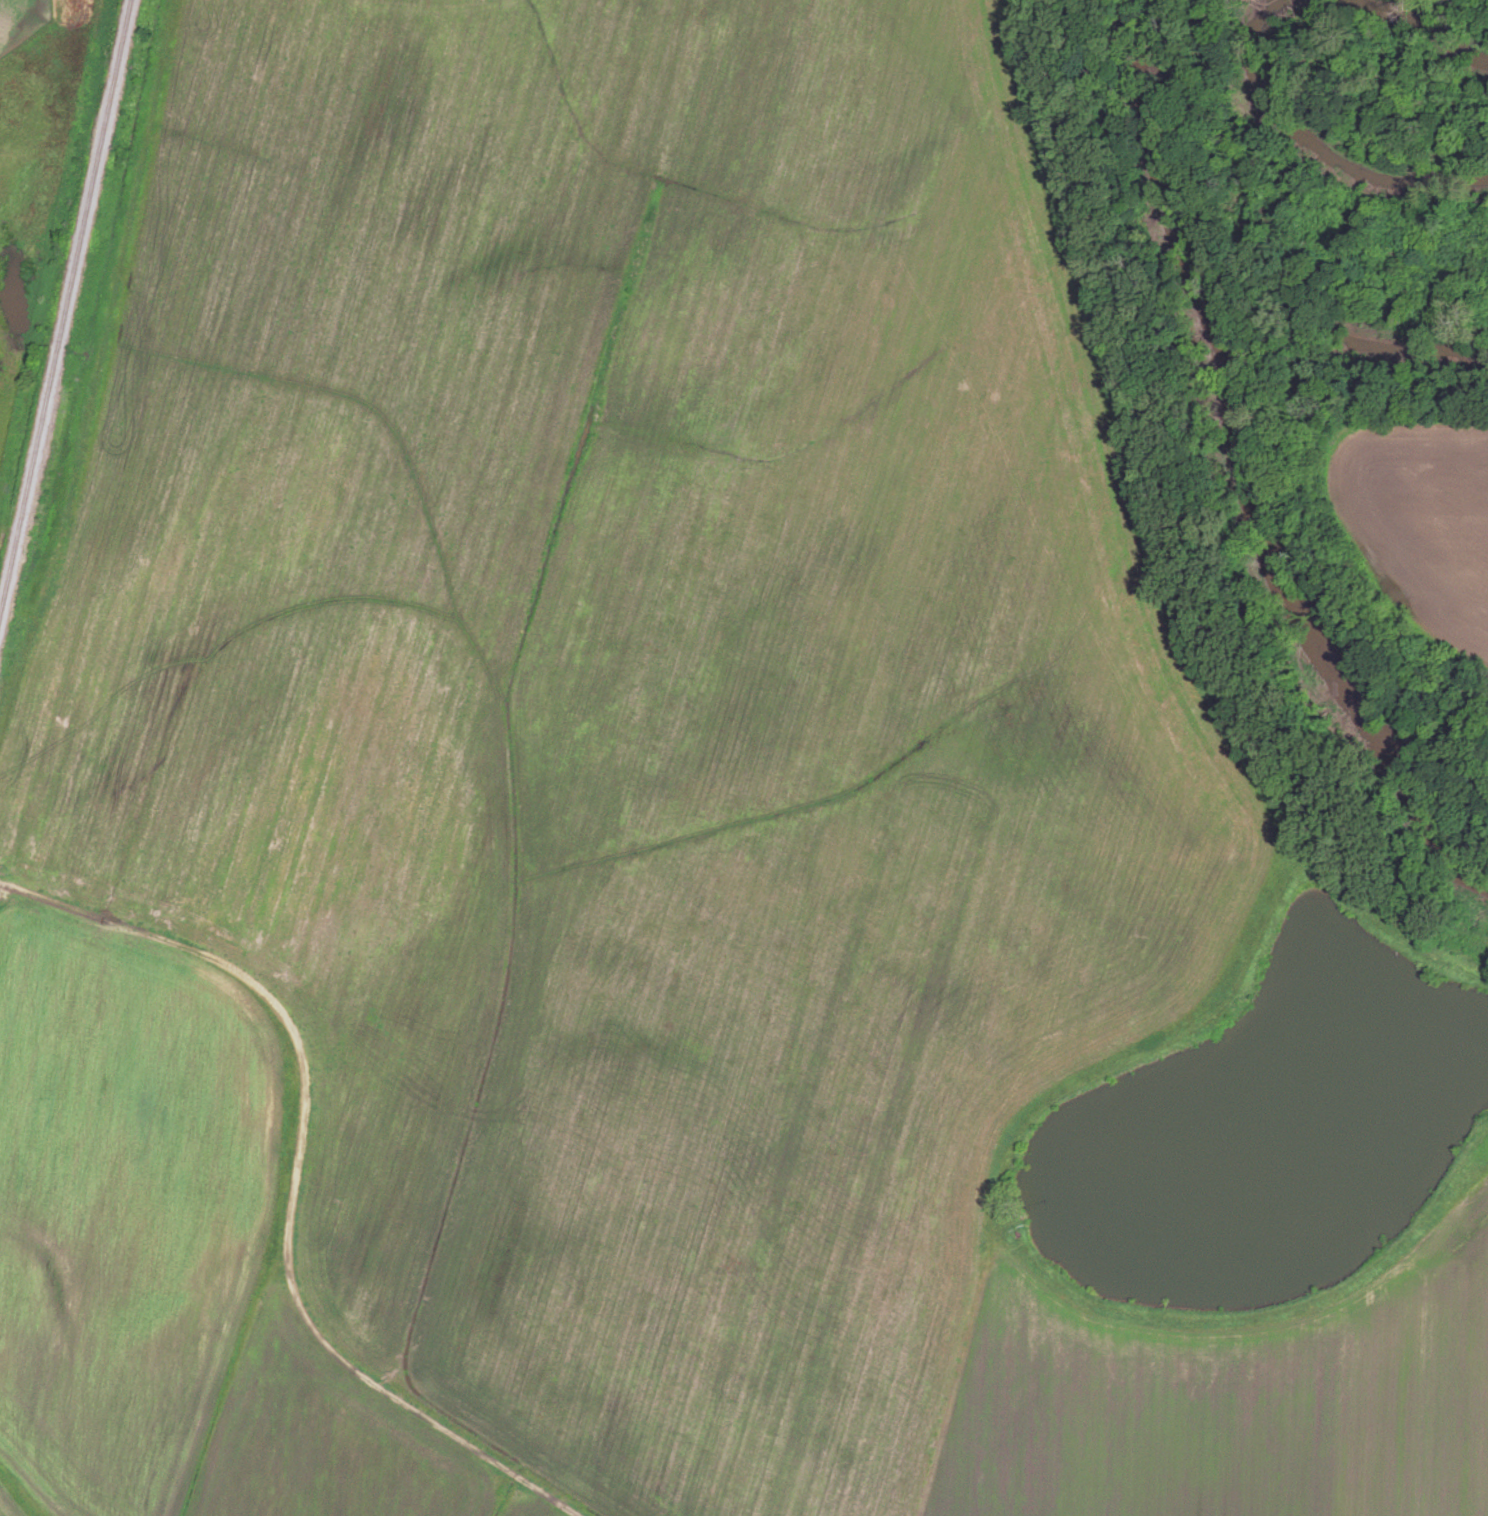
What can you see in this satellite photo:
railway: (29, 206)

